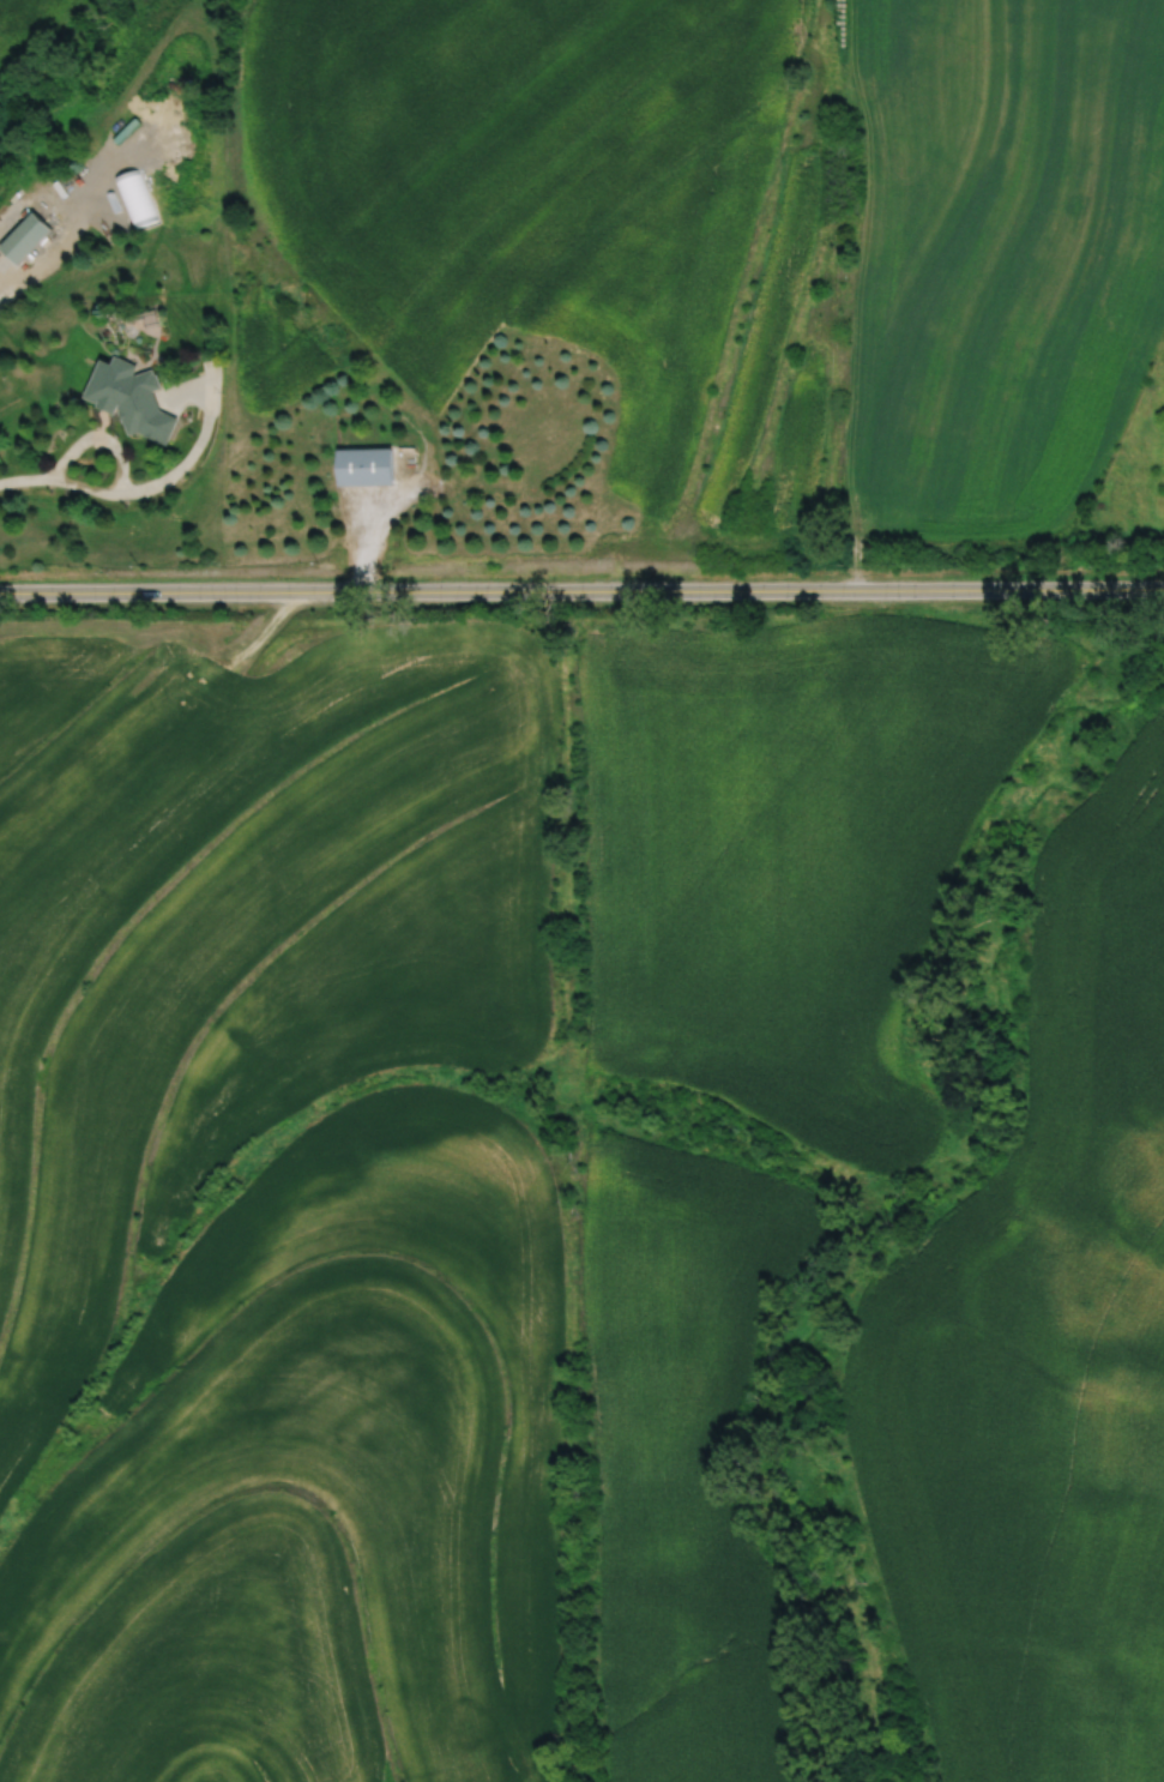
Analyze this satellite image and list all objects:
crop: (25, 23)
crop: (525, 182)
building: (23, 236)
crop: (997, 259)
building: (132, 398)
road: (194, 444)
road: (120, 459)
building: (366, 466)
road: (24, 477)
park: (1129, 484)
road: (581, 589)
road: (260, 630)
crop: (792, 851)
crop: (277, 1211)
crop: (1039, 1350)
crop: (683, 1455)

